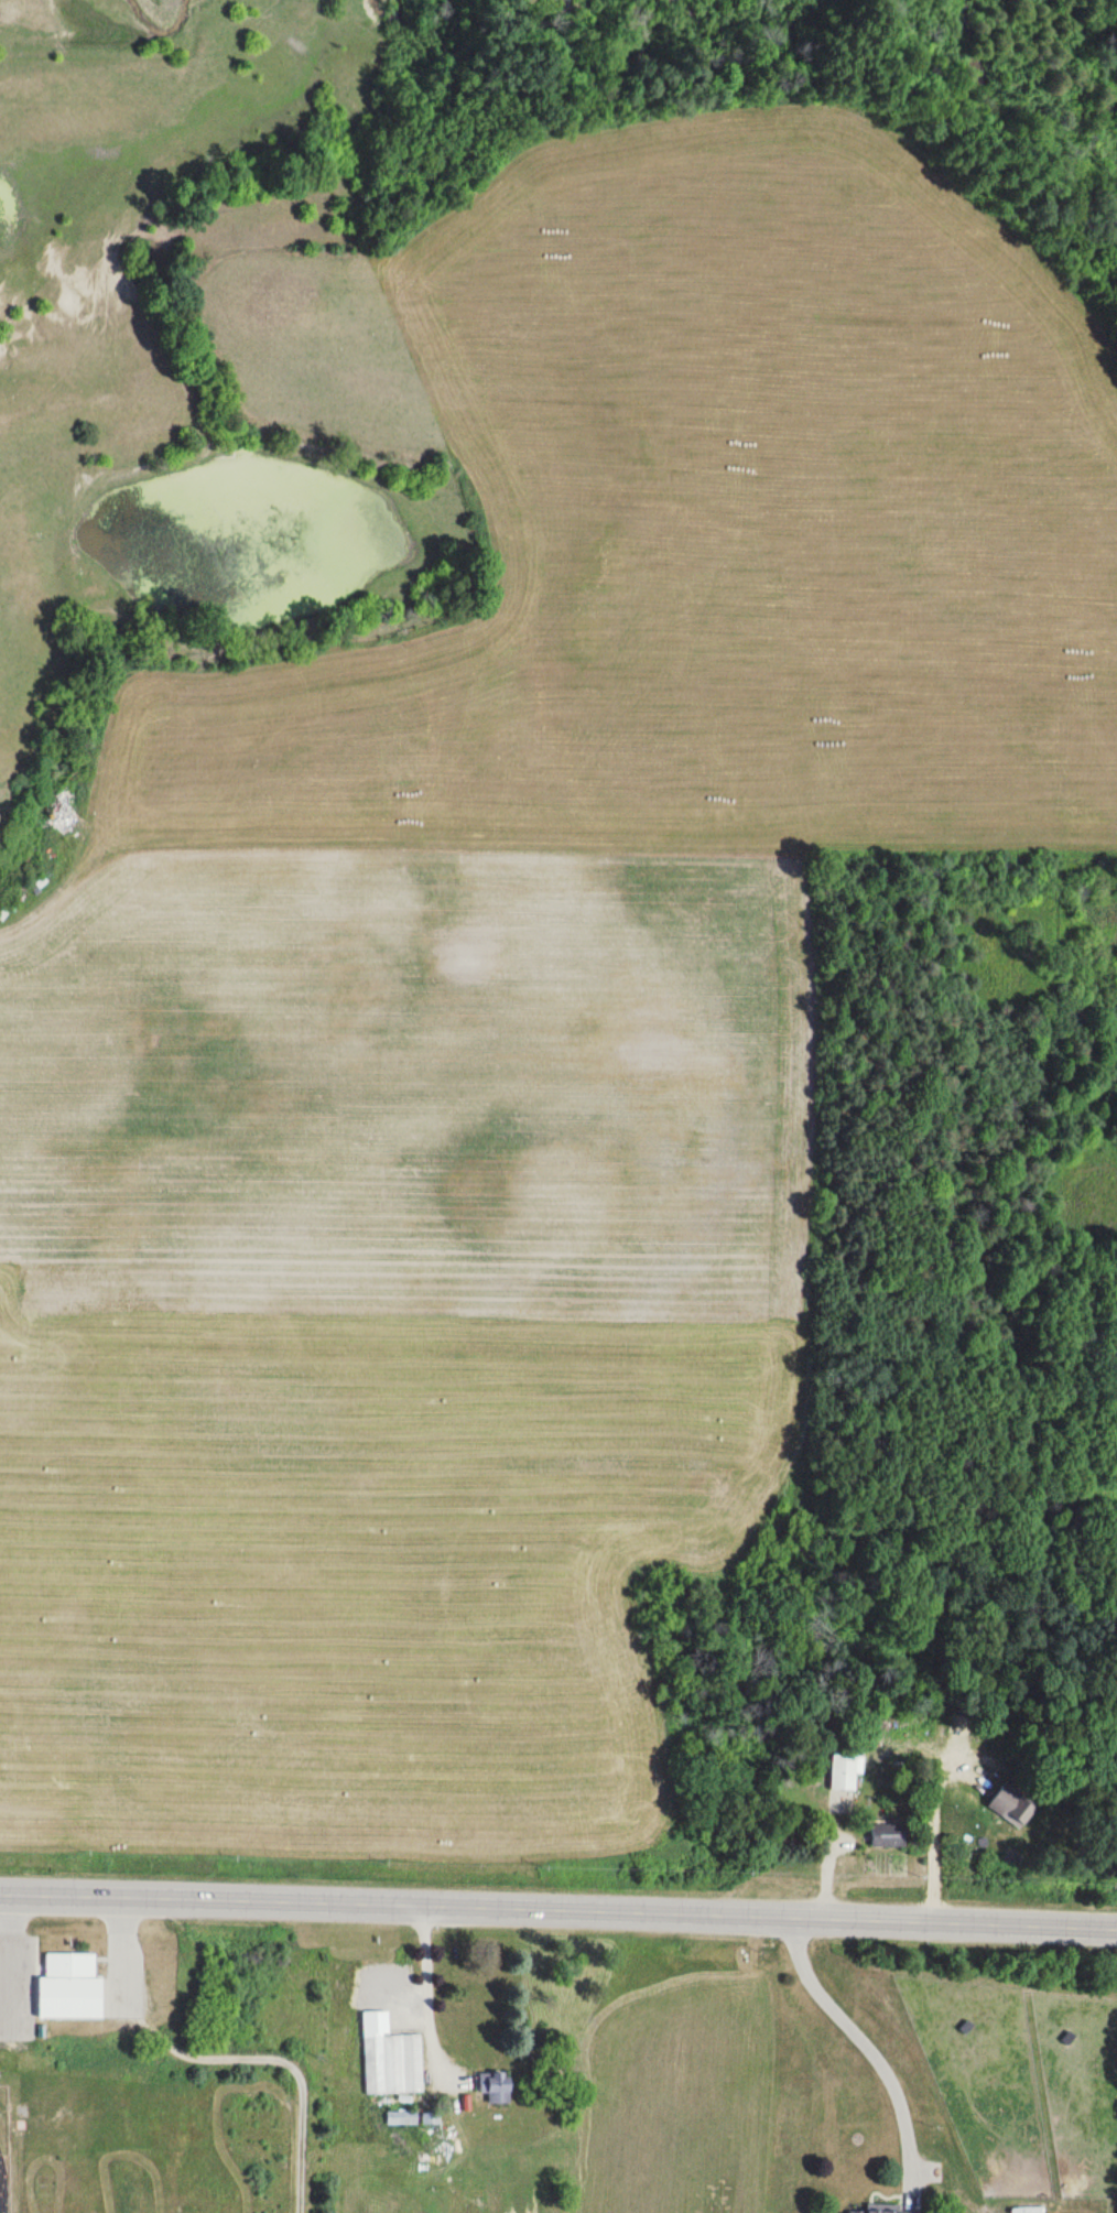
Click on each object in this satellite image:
building: (842, 1773)
building: (1009, 1805)
building: (888, 1835)
road: (558, 1908)
building: (65, 1978)
building: (496, 2087)
building: (403, 2119)
building: (891, 2211)

